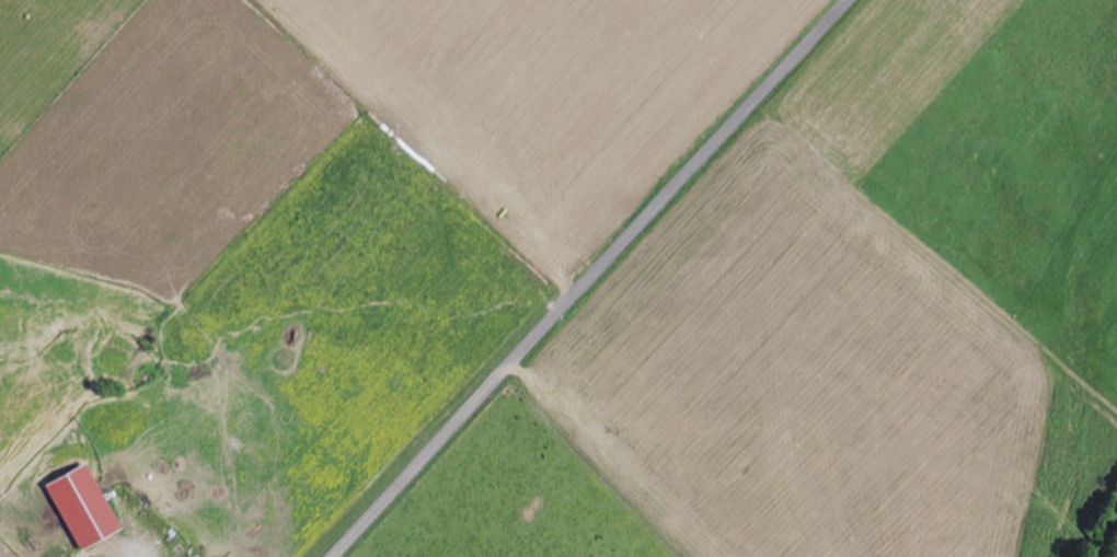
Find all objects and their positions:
road: (588, 278)
building: (74, 506)
road: (133, 553)

